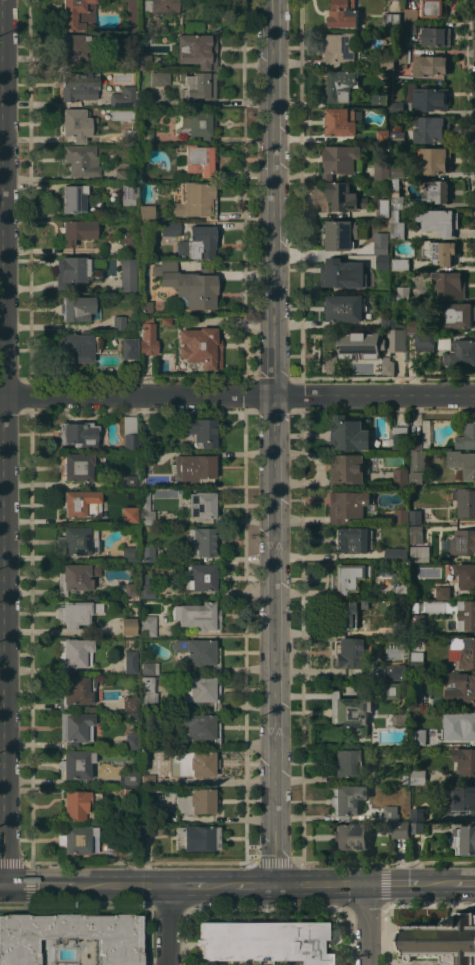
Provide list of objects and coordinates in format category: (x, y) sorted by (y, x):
building: (159, 5)
building: (433, 8)
building: (77, 13)
building: (343, 14)
building: (411, 14)
building: (130, 15)
building: (392, 19)
building: (411, 26)
building: (435, 36)
building: (71, 47)
building: (340, 49)
building: (131, 50)
building: (196, 50)
building: (402, 58)
building: (144, 61)
building: (388, 61)
building: (431, 64)
building: (393, 72)
building: (159, 78)
building: (78, 85)
building: (197, 85)
building: (341, 85)
building: (123, 95)
building: (429, 98)
building: (380, 99)
building: (396, 106)
building: (340, 121)
building: (74, 124)
building: (196, 125)
building: (431, 128)
building: (129, 136)
building: (145, 136)
building: (383, 136)
building: (397, 138)
building: (197, 159)
building: (81, 160)
building: (339, 160)
building: (434, 160)
building: (381, 170)
building: (398, 170)
building: (141, 172)
building: (120, 175)
building: (394, 184)
building: (436, 191)
building: (127, 194)
building: (344, 197)
building: (73, 198)
building: (195, 199)
building: (396, 199)
building: (384, 208)
building: (145, 212)
building: (439, 221)
building: (396, 226)
building: (170, 228)
building: (77, 230)
building: (341, 234)
building: (127, 239)
building: (197, 243)
building: (382, 245)
building: (441, 252)
building: (382, 262)
building: (400, 264)
building: (74, 270)
building: (337, 272)
building: (127, 274)
building: (188, 285)
building: (449, 285)
building: (403, 294)
building: (145, 306)
building: (77, 308)
building: (344, 308)
building: (457, 315)
building: (118, 322)
building: (145, 322)
building: (388, 322)
building: (413, 326)
building: (401, 327)
building: (396, 340)
building: (424, 341)
building: (146, 342)
building: (443, 342)
building: (361, 345)
building: (77, 347)
building: (129, 348)
building: (198, 351)
building: (461, 353)
building: (330, 364)
building: (388, 366)
building: (131, 368)
road: (237, 395)
building: (200, 431)
building: (78, 433)
building: (130, 434)
building: (346, 434)
building: (399, 437)
building: (422, 437)
building: (467, 437)
road: (2, 441)
road: (272, 441)
building: (146, 442)
building: (146, 458)
building: (462, 464)
building: (77, 466)
building: (194, 468)
building: (418, 468)
building: (345, 469)
building: (400, 475)
building: (147, 476)
building: (130, 481)
building: (465, 500)
building: (80, 503)
building: (201, 505)
building: (348, 507)
building: (145, 509)
building: (128, 514)
building: (401, 516)
building: (415, 517)
building: (416, 534)
building: (351, 539)
building: (202, 540)
building: (77, 541)
building: (463, 541)
building: (130, 552)
building: (147, 553)
building: (395, 554)
building: (419, 554)
building: (465, 575)
building: (76, 577)
building: (201, 577)
building: (346, 579)
building: (436, 580)
building: (146, 587)
building: (131, 589)
building: (400, 589)
building: (444, 592)
building: (77, 612)
building: (351, 613)
building: (467, 615)
building: (197, 616)
building: (416, 619)
building: (399, 622)
building: (147, 625)
building: (127, 626)
building: (464, 650)
building: (198, 652)
building: (349, 652)
building: (74, 653)
building: (416, 661)
building: (130, 662)
building: (148, 667)
building: (396, 672)
building: (106, 679)
building: (462, 687)
building: (195, 689)
building: (393, 690)
building: (74, 691)
building: (147, 693)
building: (130, 703)
building: (417, 703)
building: (404, 710)
building: (350, 712)
building: (132, 715)
building: (465, 725)
building: (199, 726)
building: (75, 728)
building: (419, 738)
building: (131, 740)
building: (465, 760)
building: (347, 762)
building: (192, 763)
building: (75, 764)
building: (128, 777)
building: (418, 777)
building: (405, 779)
building: (147, 780)
building: (130, 795)
building: (463, 798)
building: (347, 800)
building: (195, 801)
building: (78, 805)
building: (148, 812)
building: (390, 813)
building: (418, 814)
building: (417, 827)
building: (400, 829)
building: (147, 831)
building: (133, 832)
building: (351, 836)
building: (200, 838)
building: (78, 839)
building: (465, 839)
road: (463, 882)
road: (2, 883)
traffic signals: (4, 883)
road: (40, 883)
road: (120, 883)
road: (188, 883)
road: (244, 883)
road: (319, 883)
road: (407, 883)
road: (365, 923)
road: (164, 924)
building: (70, 936)
building: (442, 940)
building: (265, 941)

